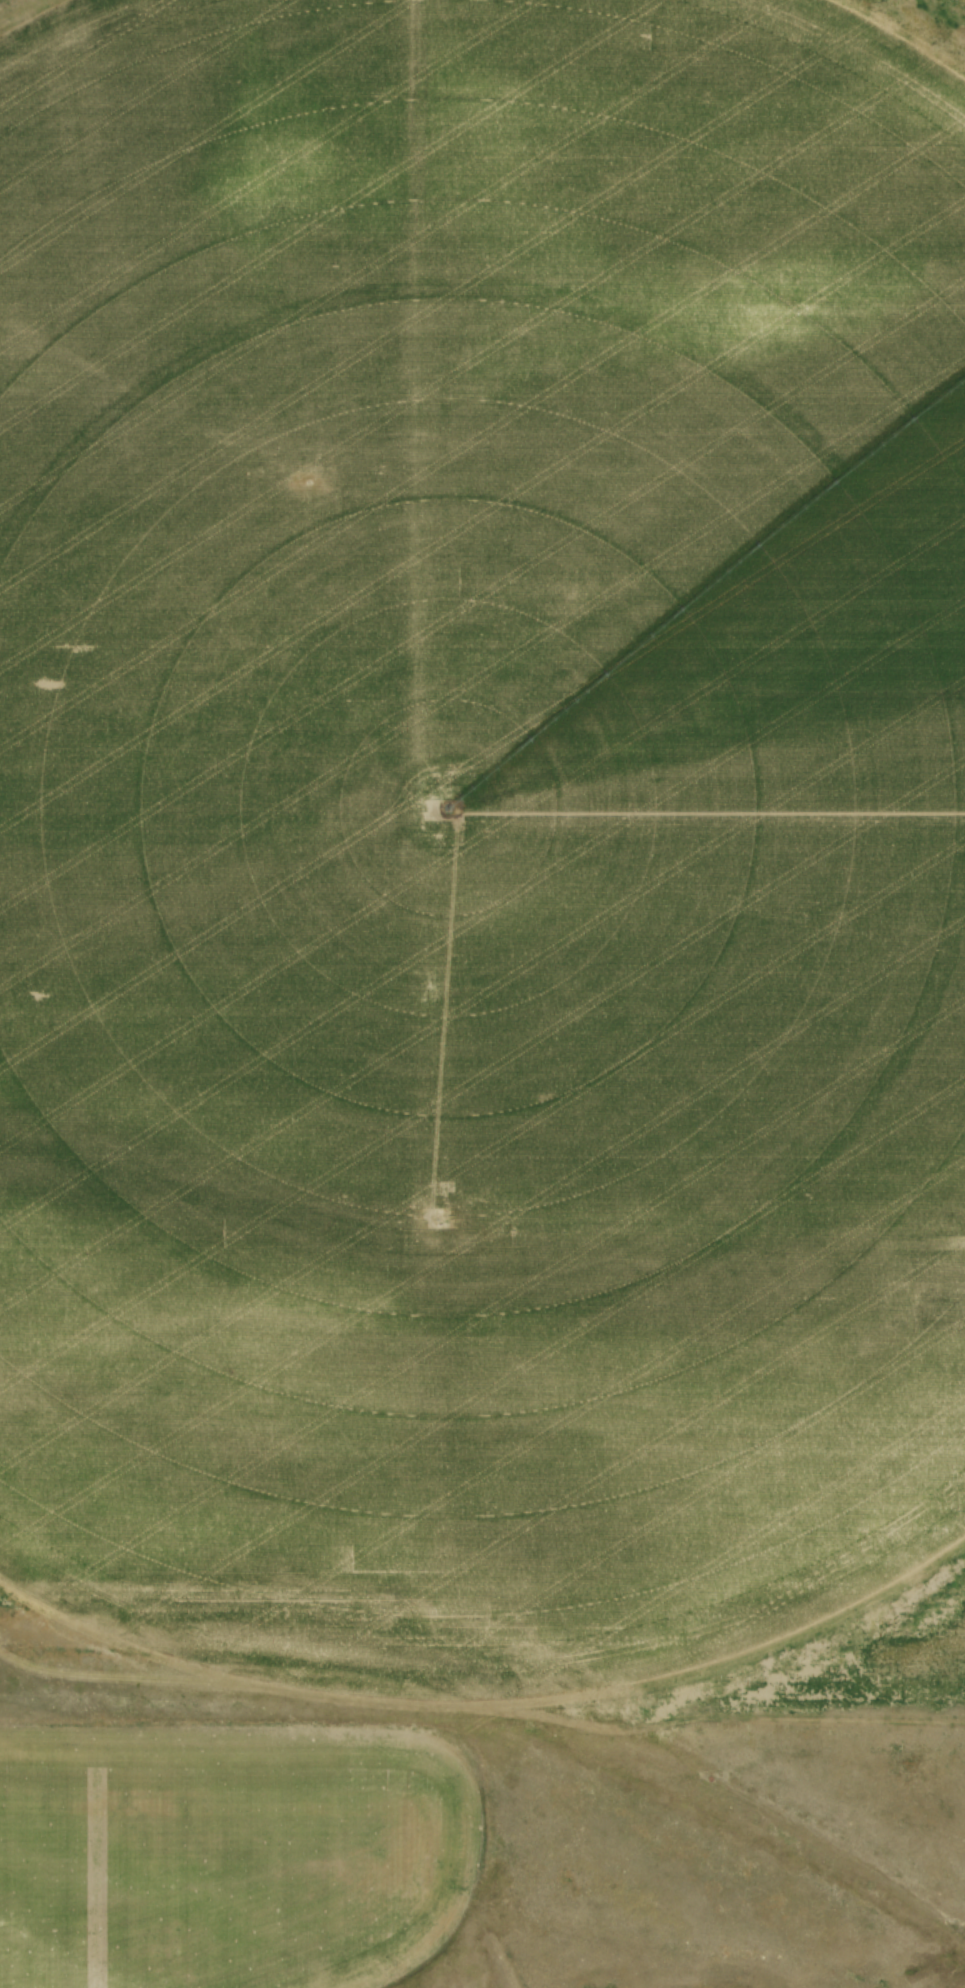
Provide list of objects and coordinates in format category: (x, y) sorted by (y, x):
crop: (479, 825)
crop: (232, 1856)

